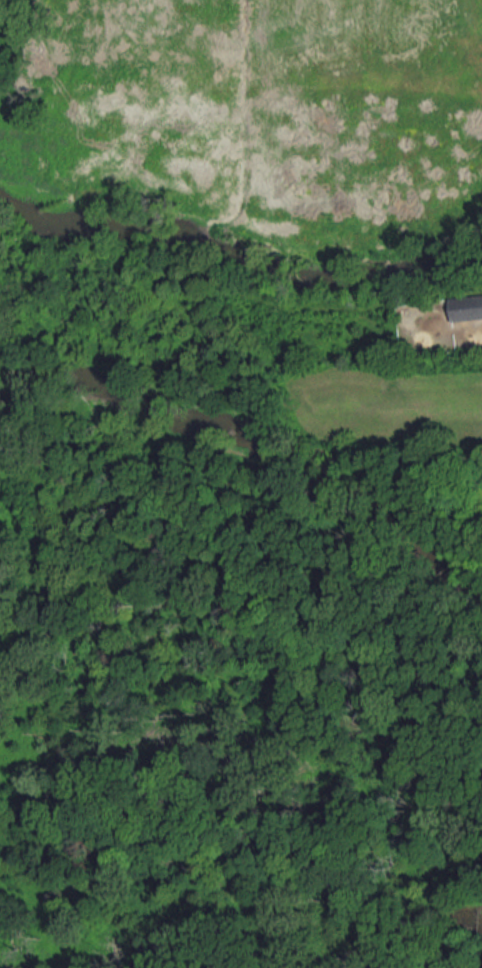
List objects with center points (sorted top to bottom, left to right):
river: (237, 274)
building: (467, 309)
river: (260, 452)
river: (407, 923)
river: (174, 954)

